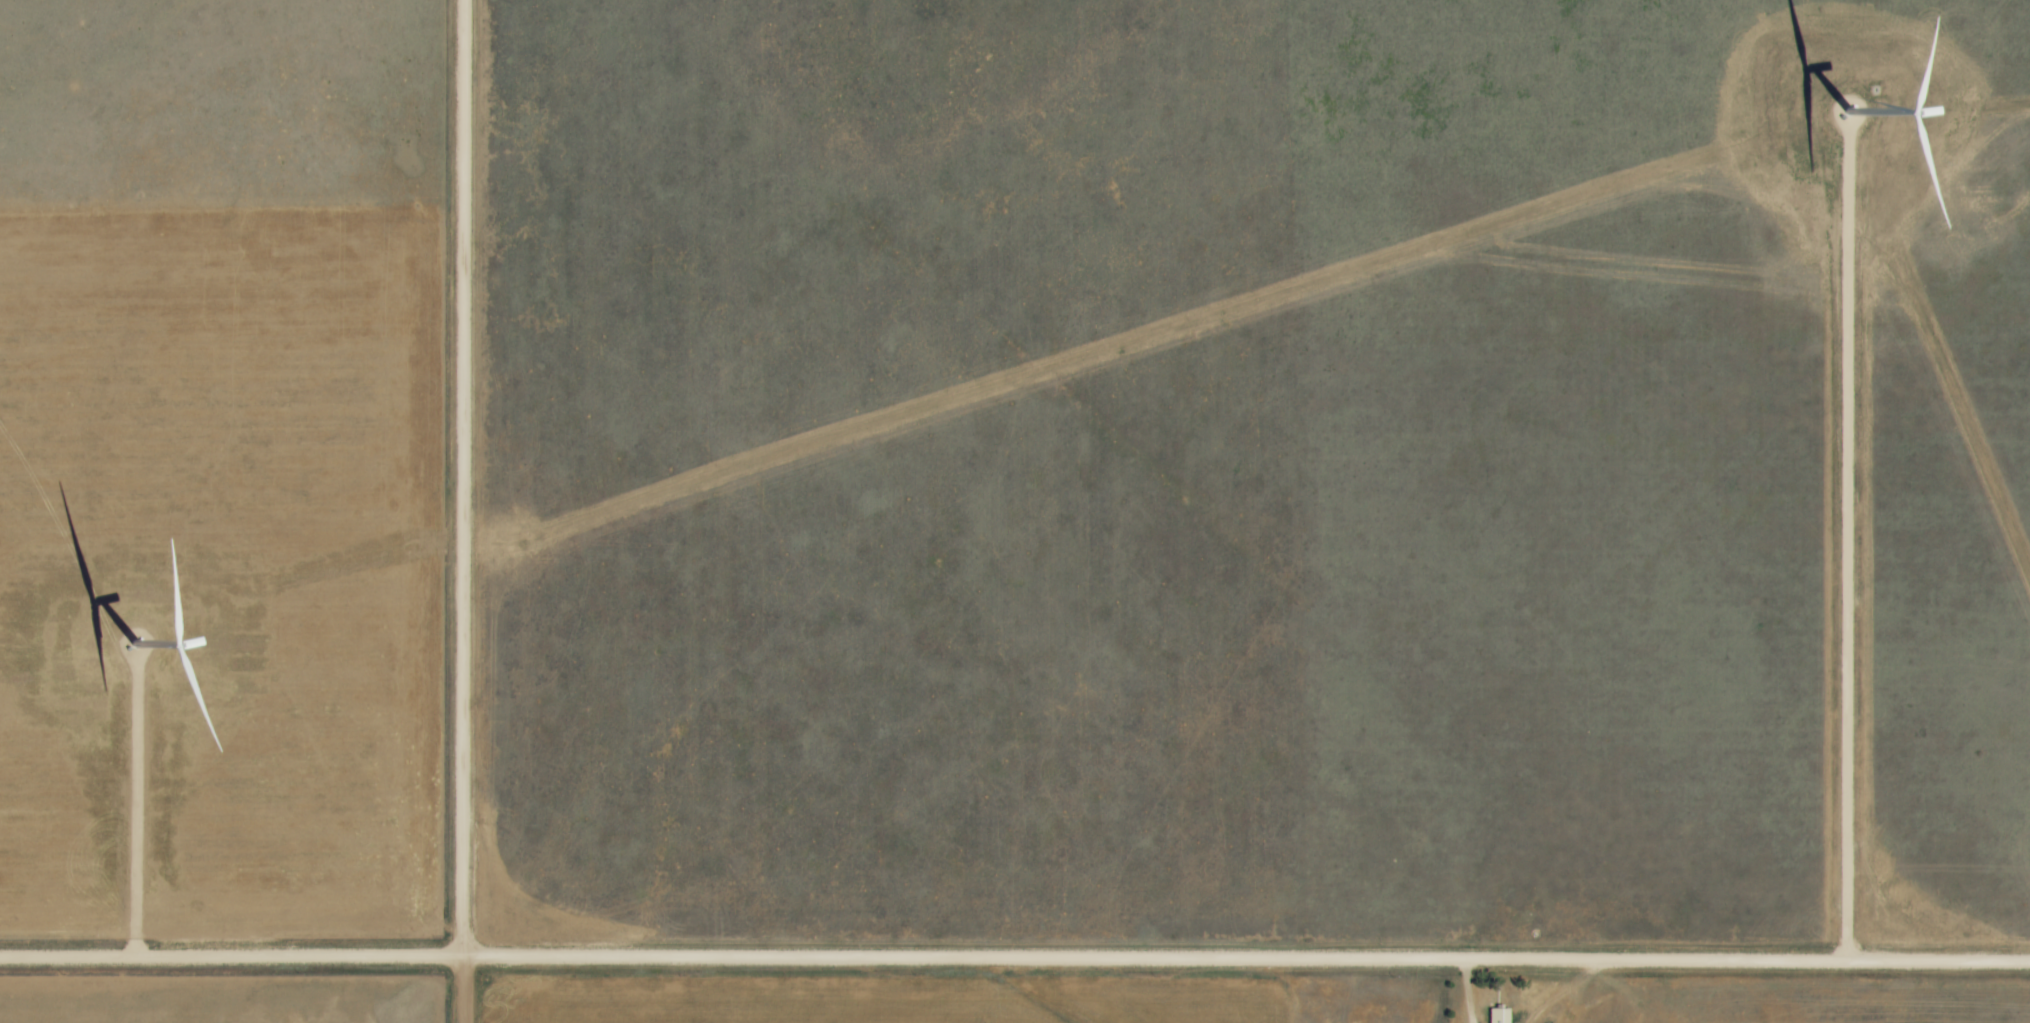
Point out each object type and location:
wind turbine: (1848, 102)
road: (465, 511)
road: (1848, 547)
wind turbine: (137, 638)
road: (1014, 955)

